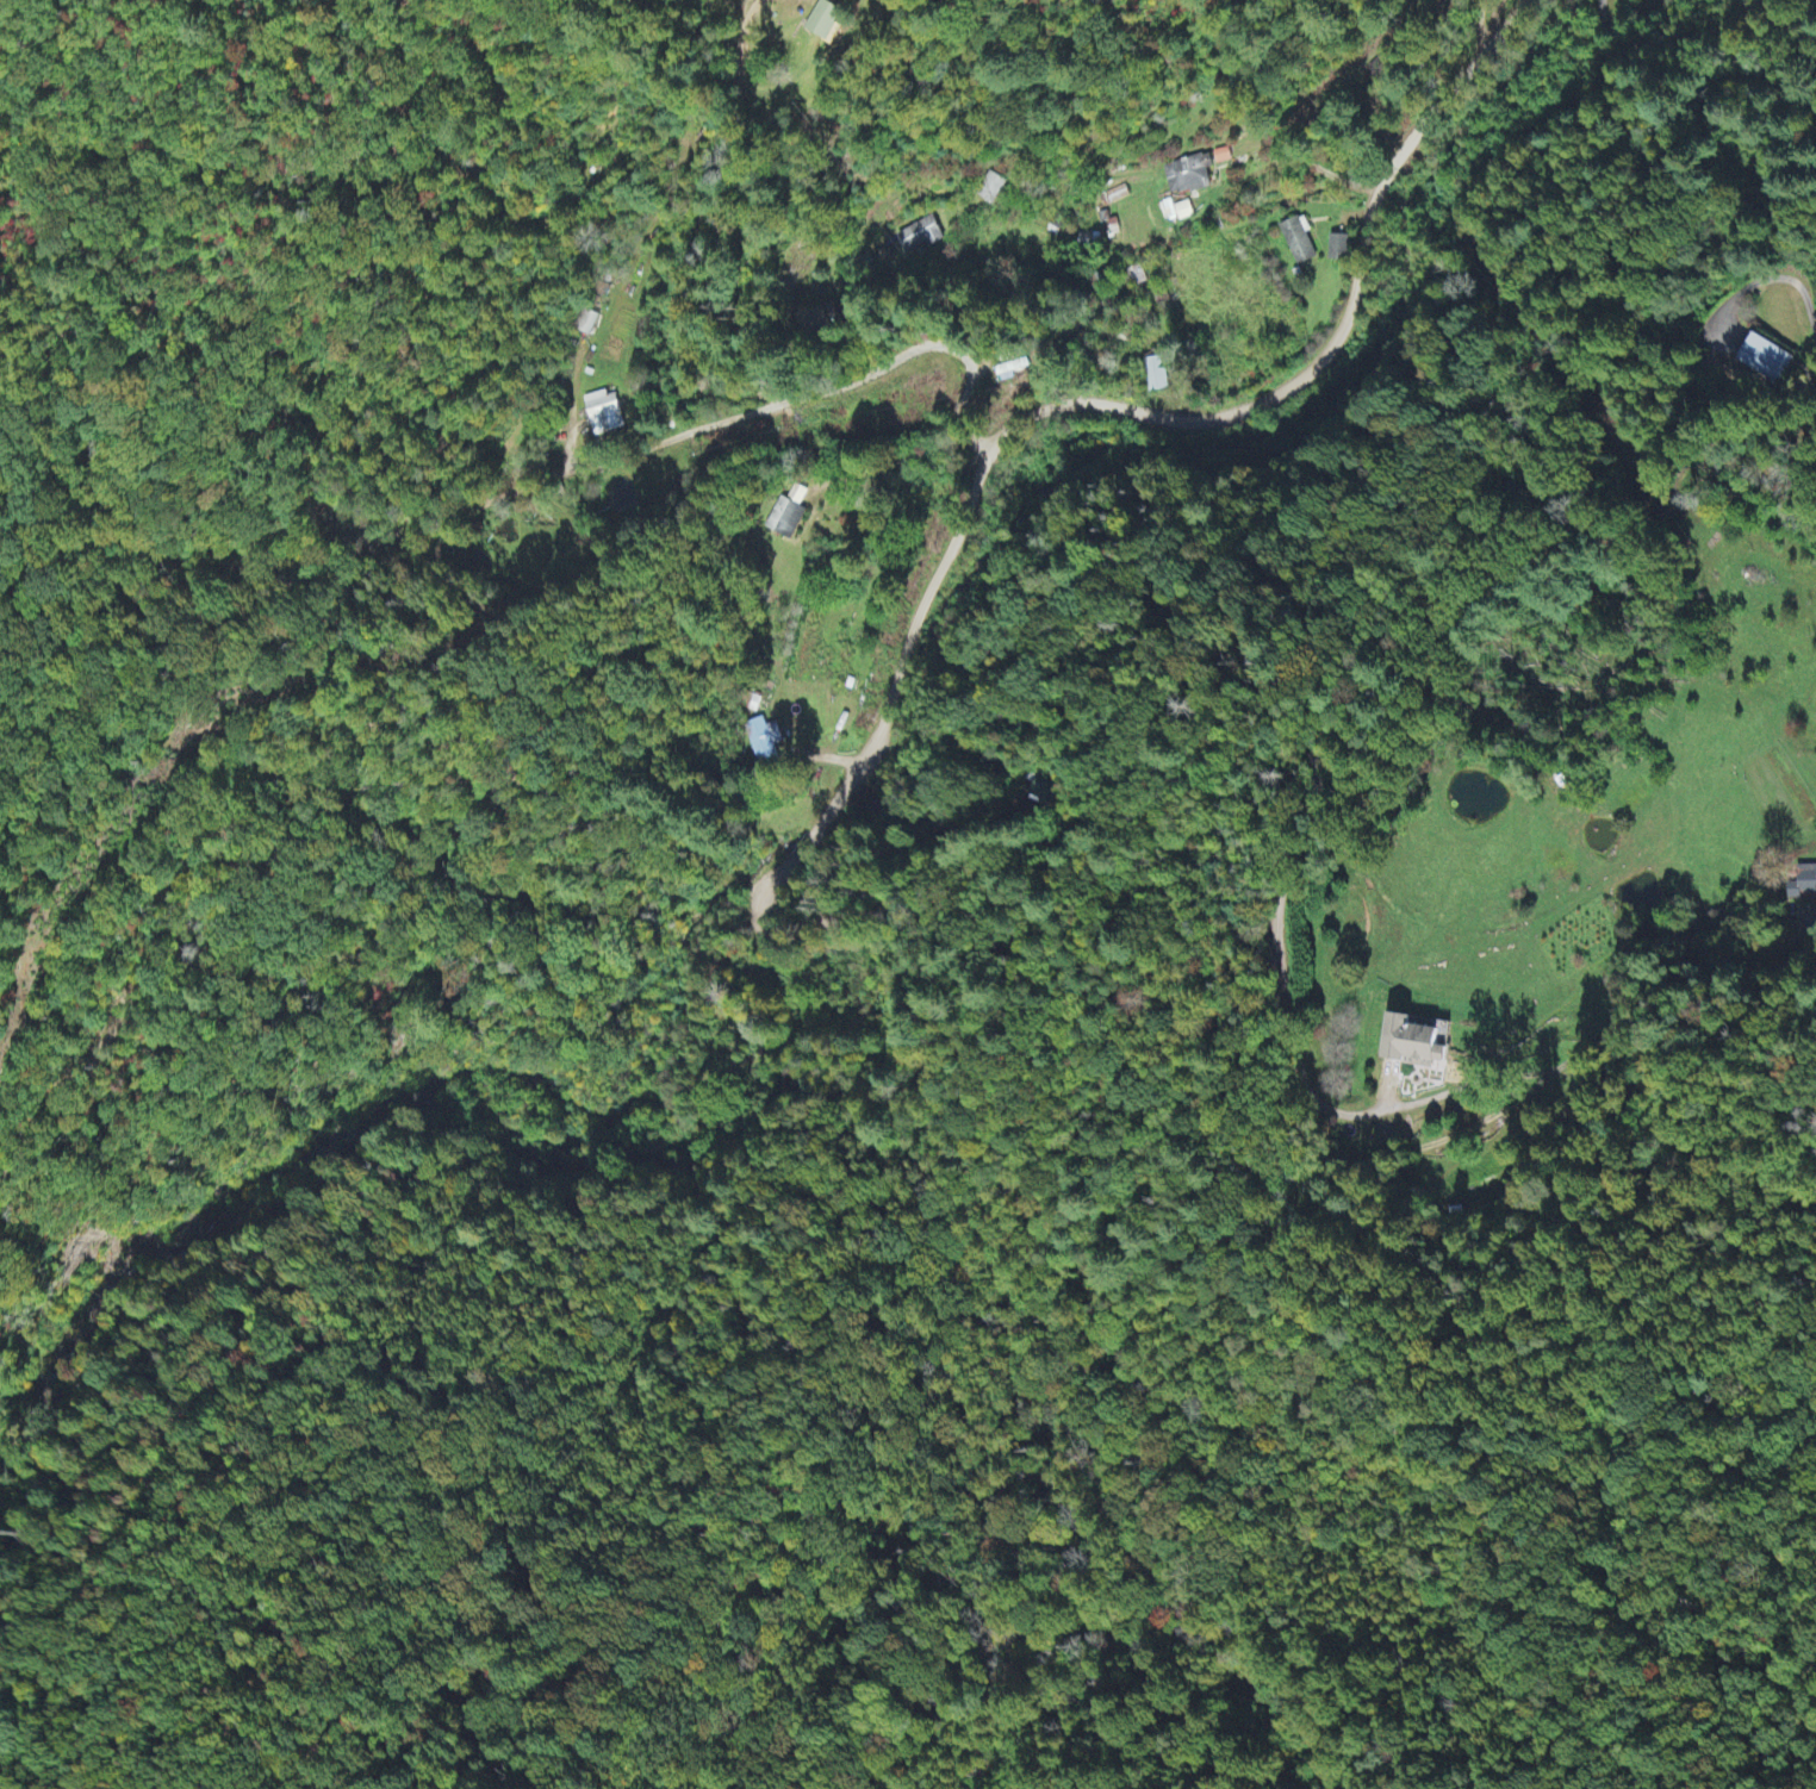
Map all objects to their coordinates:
building: (829, 21)
road: (1677, 44)
building: (1223, 157)
building: (1188, 177)
road: (699, 205)
building: (1177, 212)
building: (922, 237)
building: (1301, 243)
building: (1341, 250)
building: (1770, 362)
building: (1016, 373)
building: (1156, 376)
road: (716, 411)
road: (1161, 412)
building: (607, 416)
building: (790, 515)
building: (767, 738)
road: (1243, 759)
road: (223, 773)
road: (804, 839)
building: (1801, 889)
building: (1419, 1045)
road: (1557, 1403)

